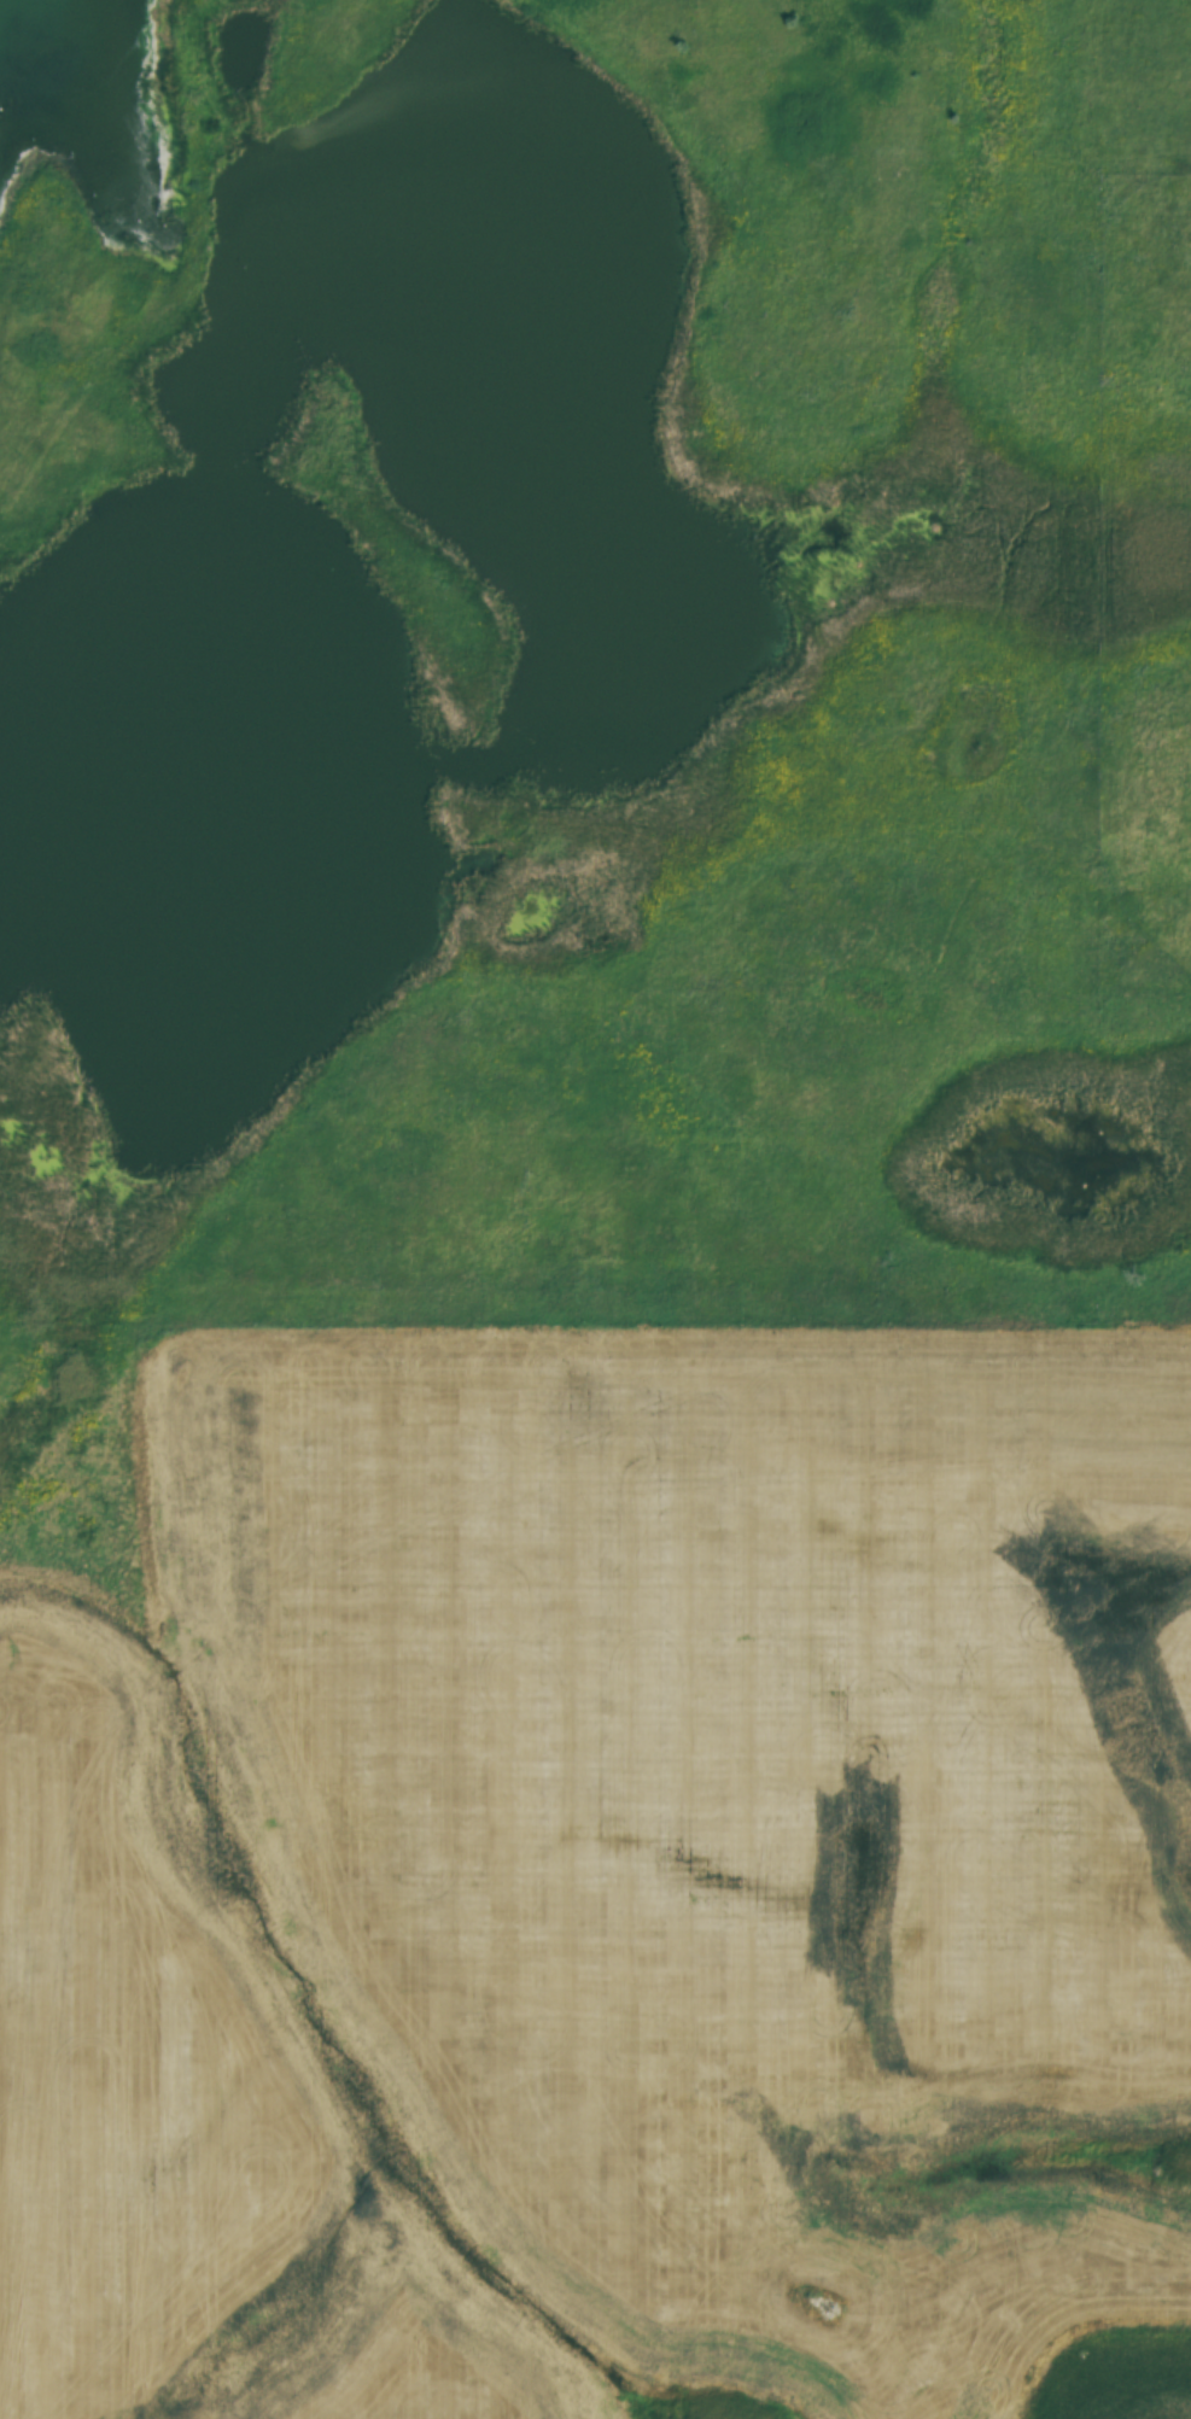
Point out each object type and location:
road: (182, 290)

